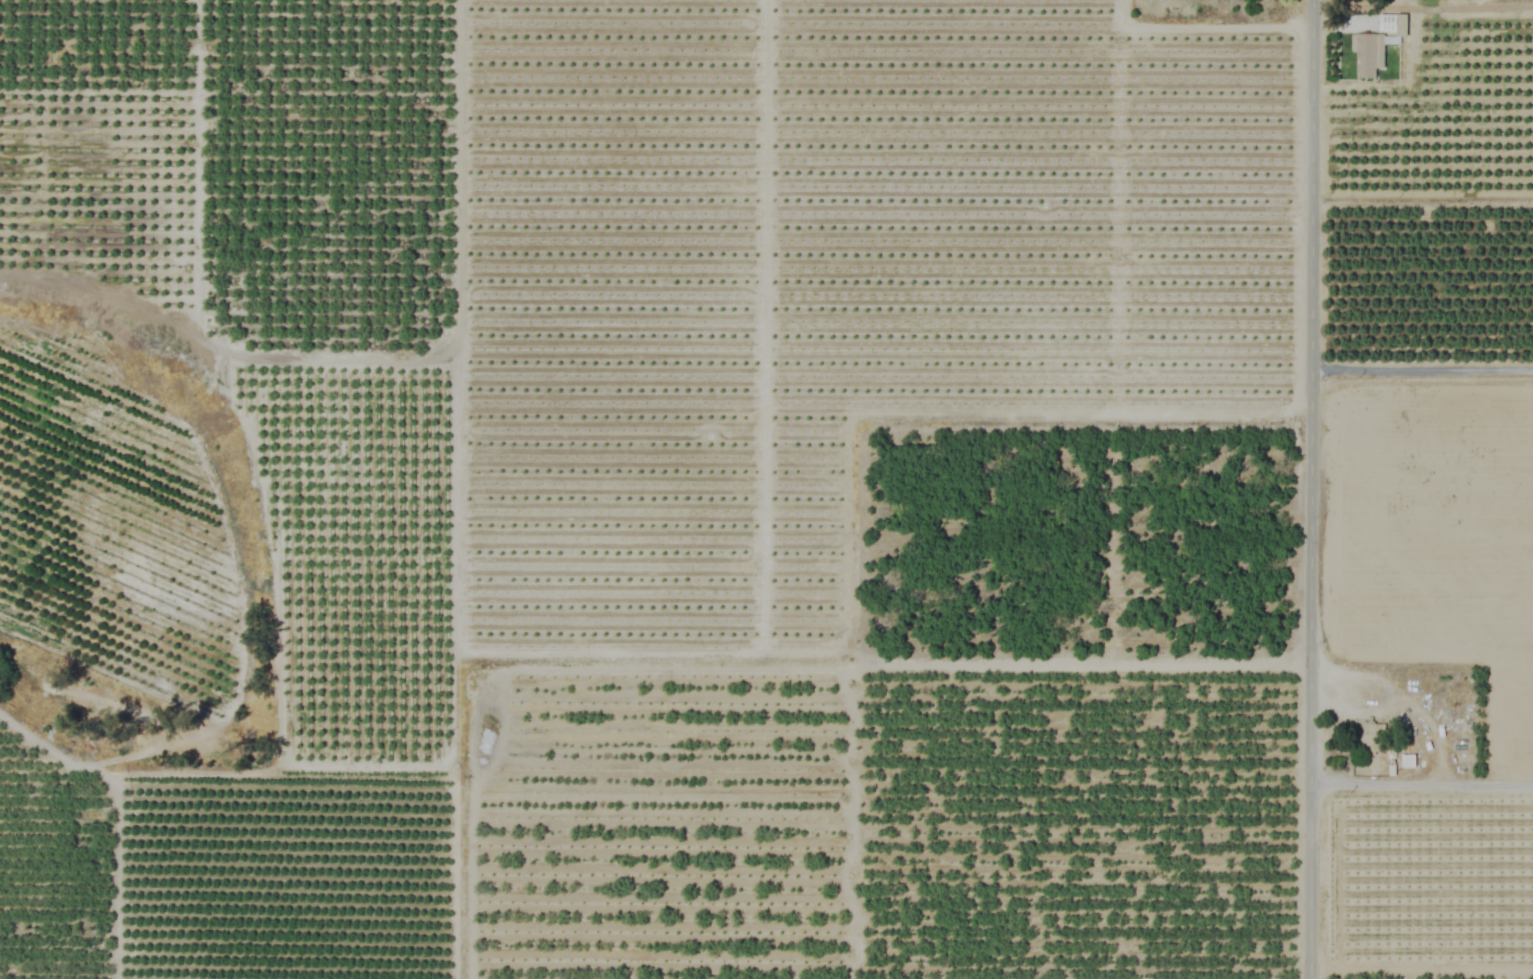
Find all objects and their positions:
road: (1422, 8)
building: (1388, 23)
building: (1368, 55)
road: (1421, 371)
road: (1309, 489)
building: (1371, 734)
building: (1407, 762)
road: (1420, 783)

